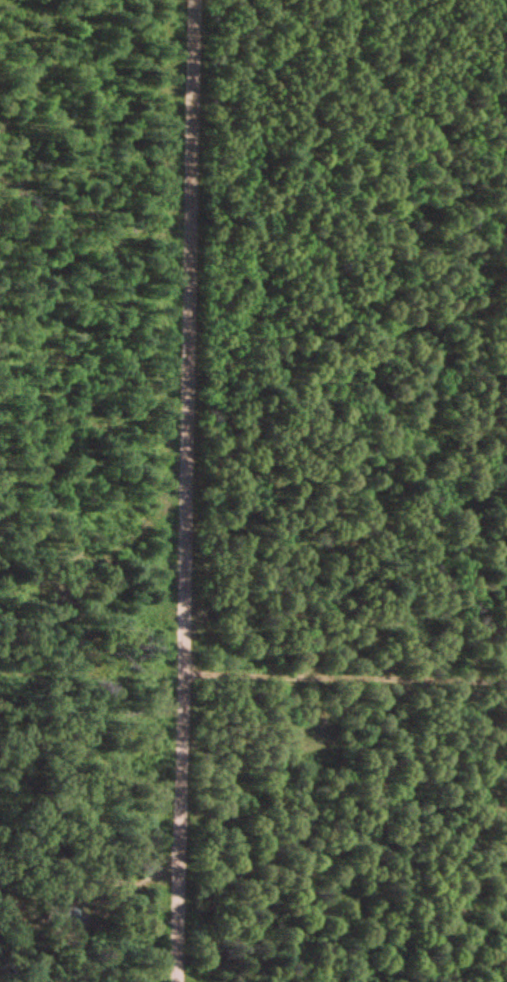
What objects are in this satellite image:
road: (188, 491)

